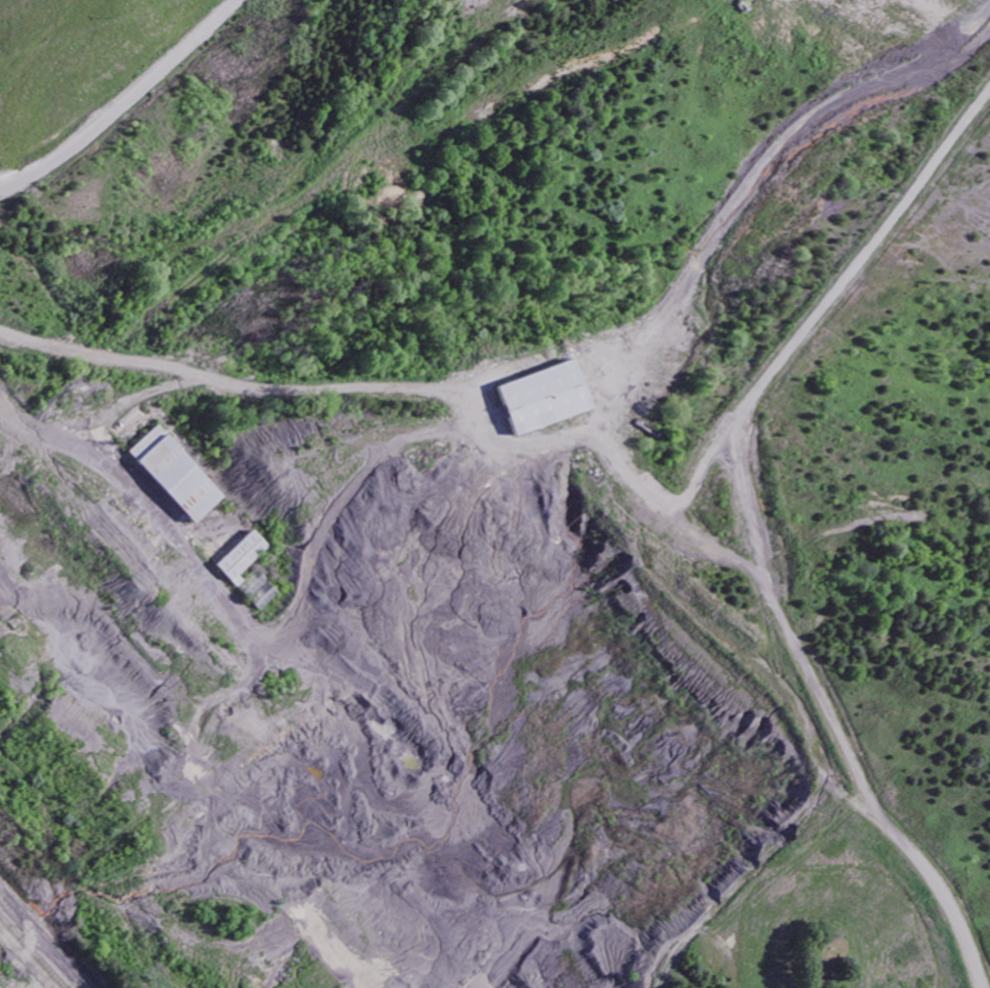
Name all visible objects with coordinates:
road: (124, 101)
road: (222, 382)
road: (135, 398)
building: (544, 399)
road: (478, 449)
road: (92, 456)
building: (178, 474)
building: (226, 574)
railway: (42, 942)

